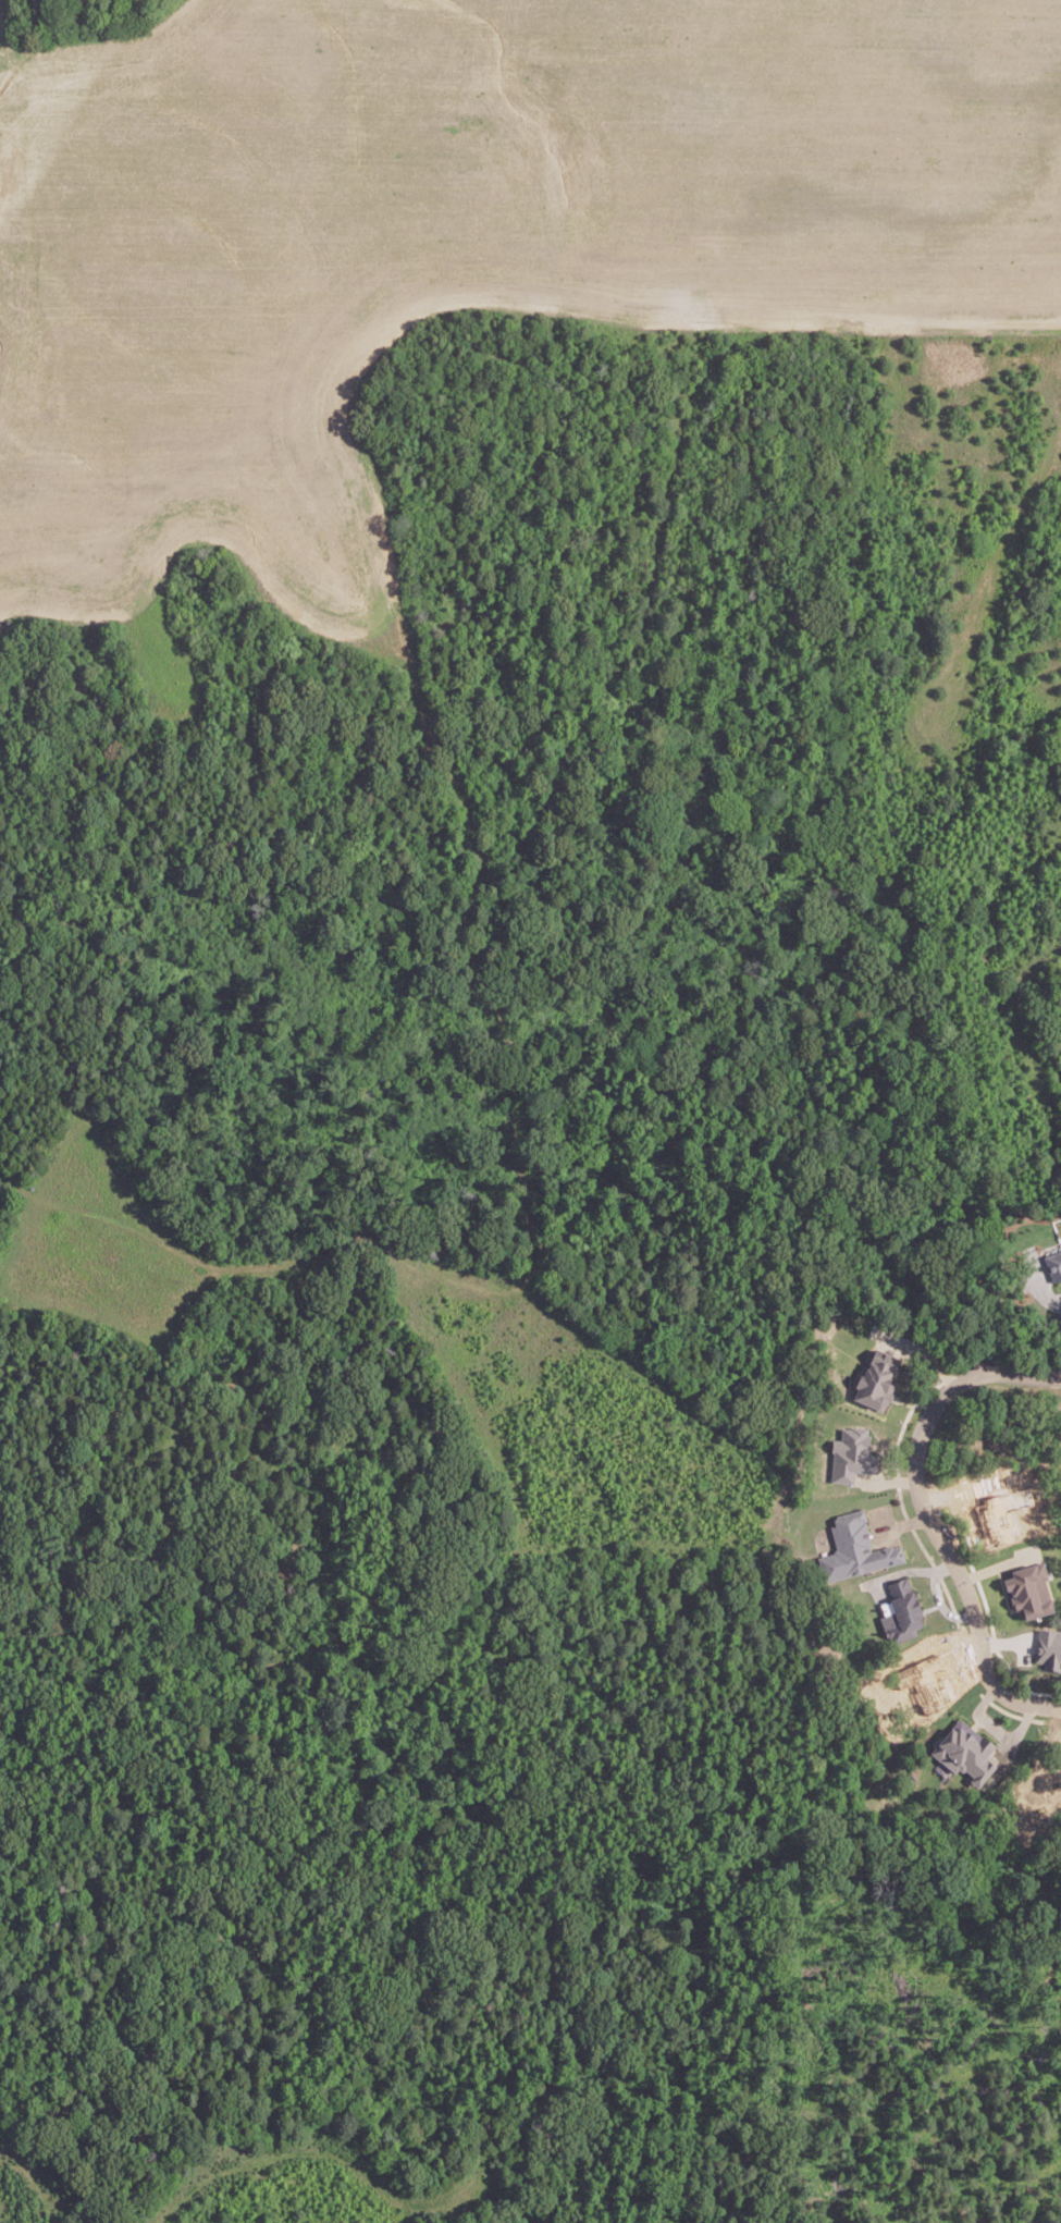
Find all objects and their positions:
building: (1053, 1263)
road: (1040, 1282)
road: (918, 1354)
road: (994, 1370)
building: (876, 1377)
building: (851, 1453)
road: (888, 1478)
building: (1002, 1513)
road: (902, 1522)
building: (855, 1547)
road: (955, 1561)
road: (996, 1565)
road: (904, 1570)
building: (1029, 1589)
road: (936, 1595)
building: (902, 1610)
road: (1004, 1641)
building: (1047, 1646)
building: (927, 1681)
road: (1047, 1703)
road: (979, 1715)
road: (1016, 1729)
building: (964, 1749)

